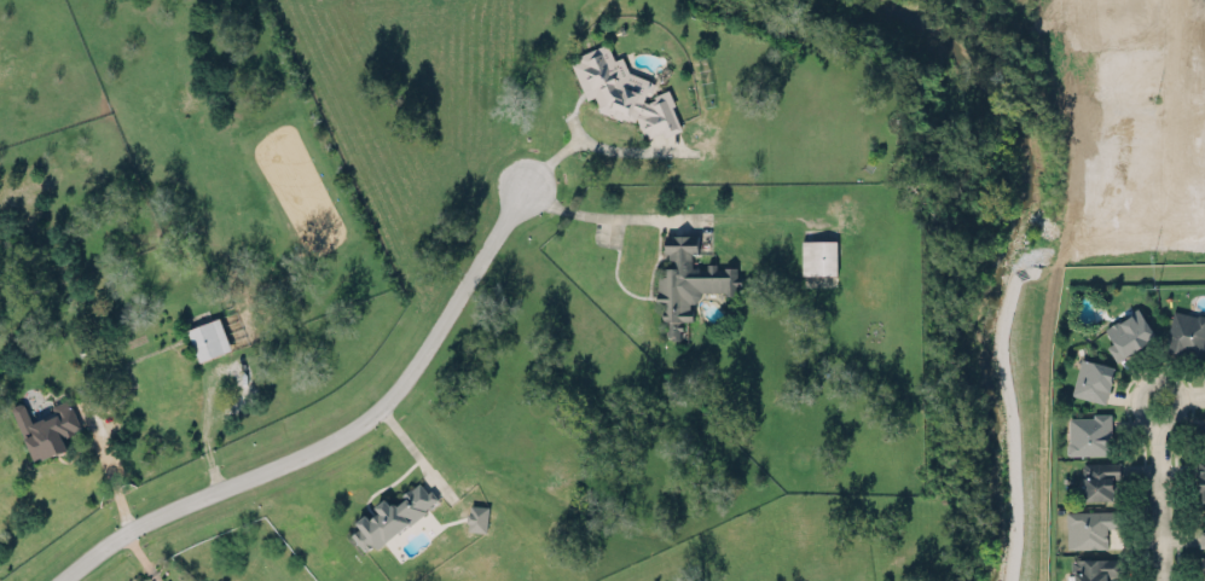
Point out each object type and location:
building: (624, 89)
road: (581, 144)
road: (591, 216)
building: (818, 256)
building: (688, 278)
building: (1128, 332)
building: (1186, 332)
building: (208, 338)
building: (1093, 377)
building: (1204, 380)
road: (1178, 403)
building: (1204, 422)
building: (46, 424)
building: (1089, 431)
road: (336, 437)
road: (412, 451)
road: (110, 473)
building: (1201, 475)
building: (1100, 480)
road: (1158, 502)
building: (392, 511)
building: (476, 517)
building: (1089, 527)
building: (1201, 534)
building: (1095, 568)
building: (1203, 568)

